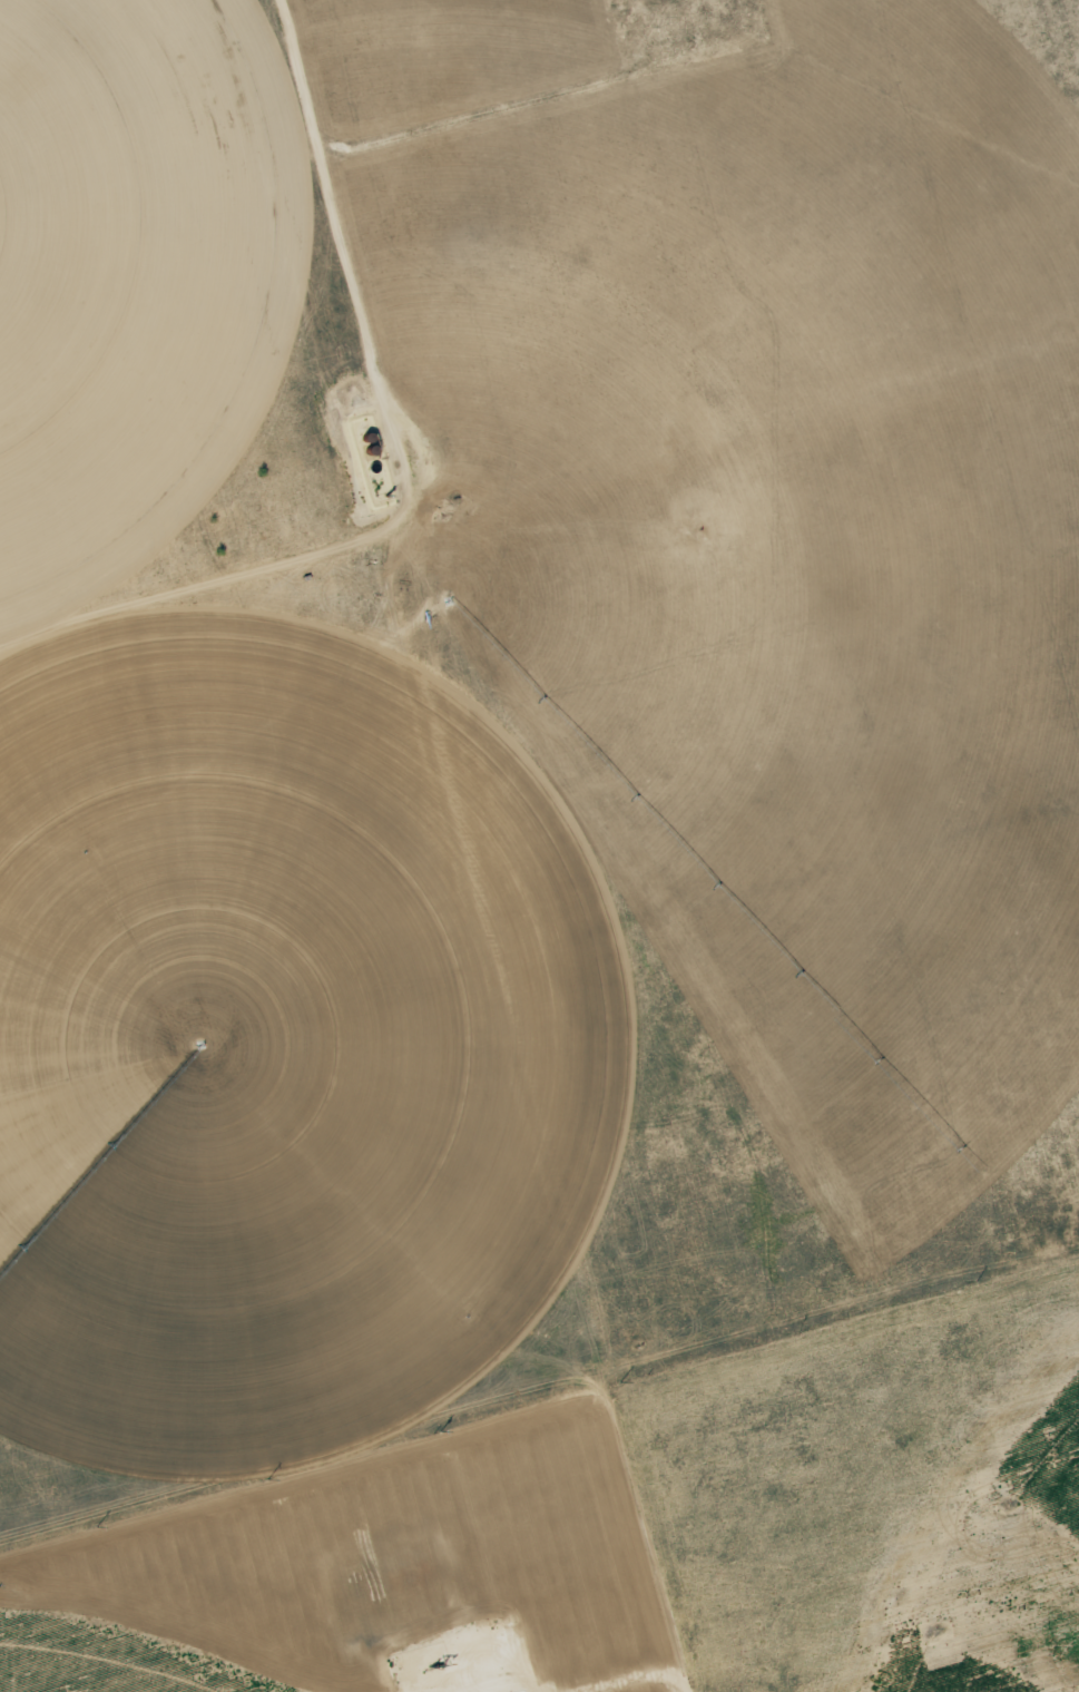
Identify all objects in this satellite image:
road: (457, 620)
petroleum well: (435, 1663)

